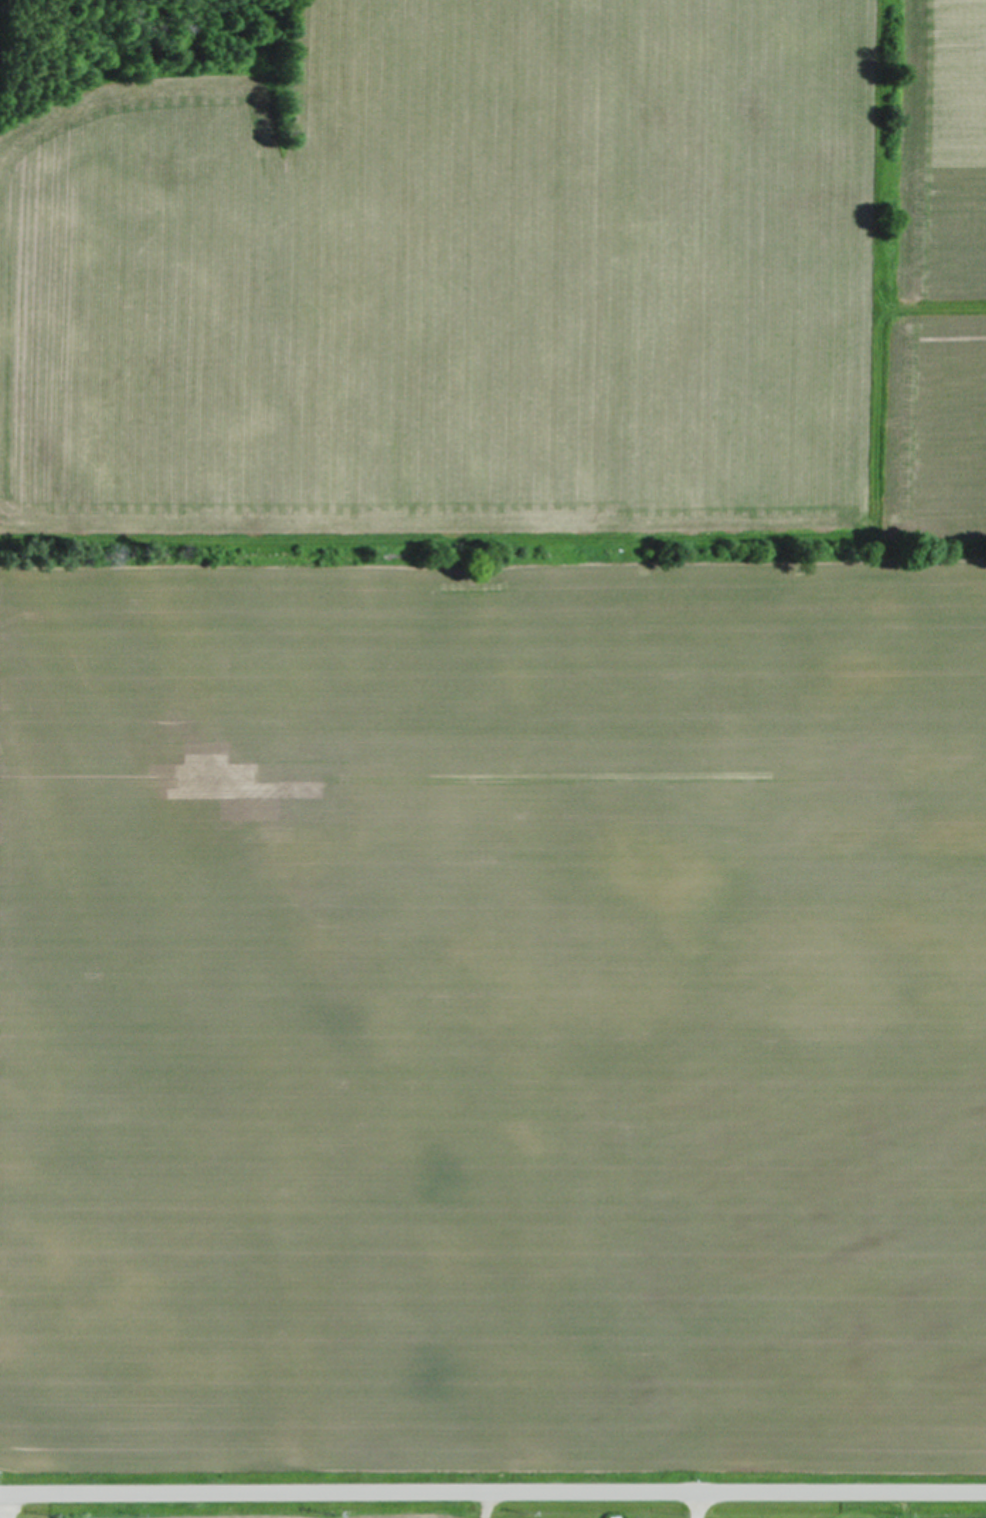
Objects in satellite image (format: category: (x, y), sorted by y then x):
road: (493, 1491)

